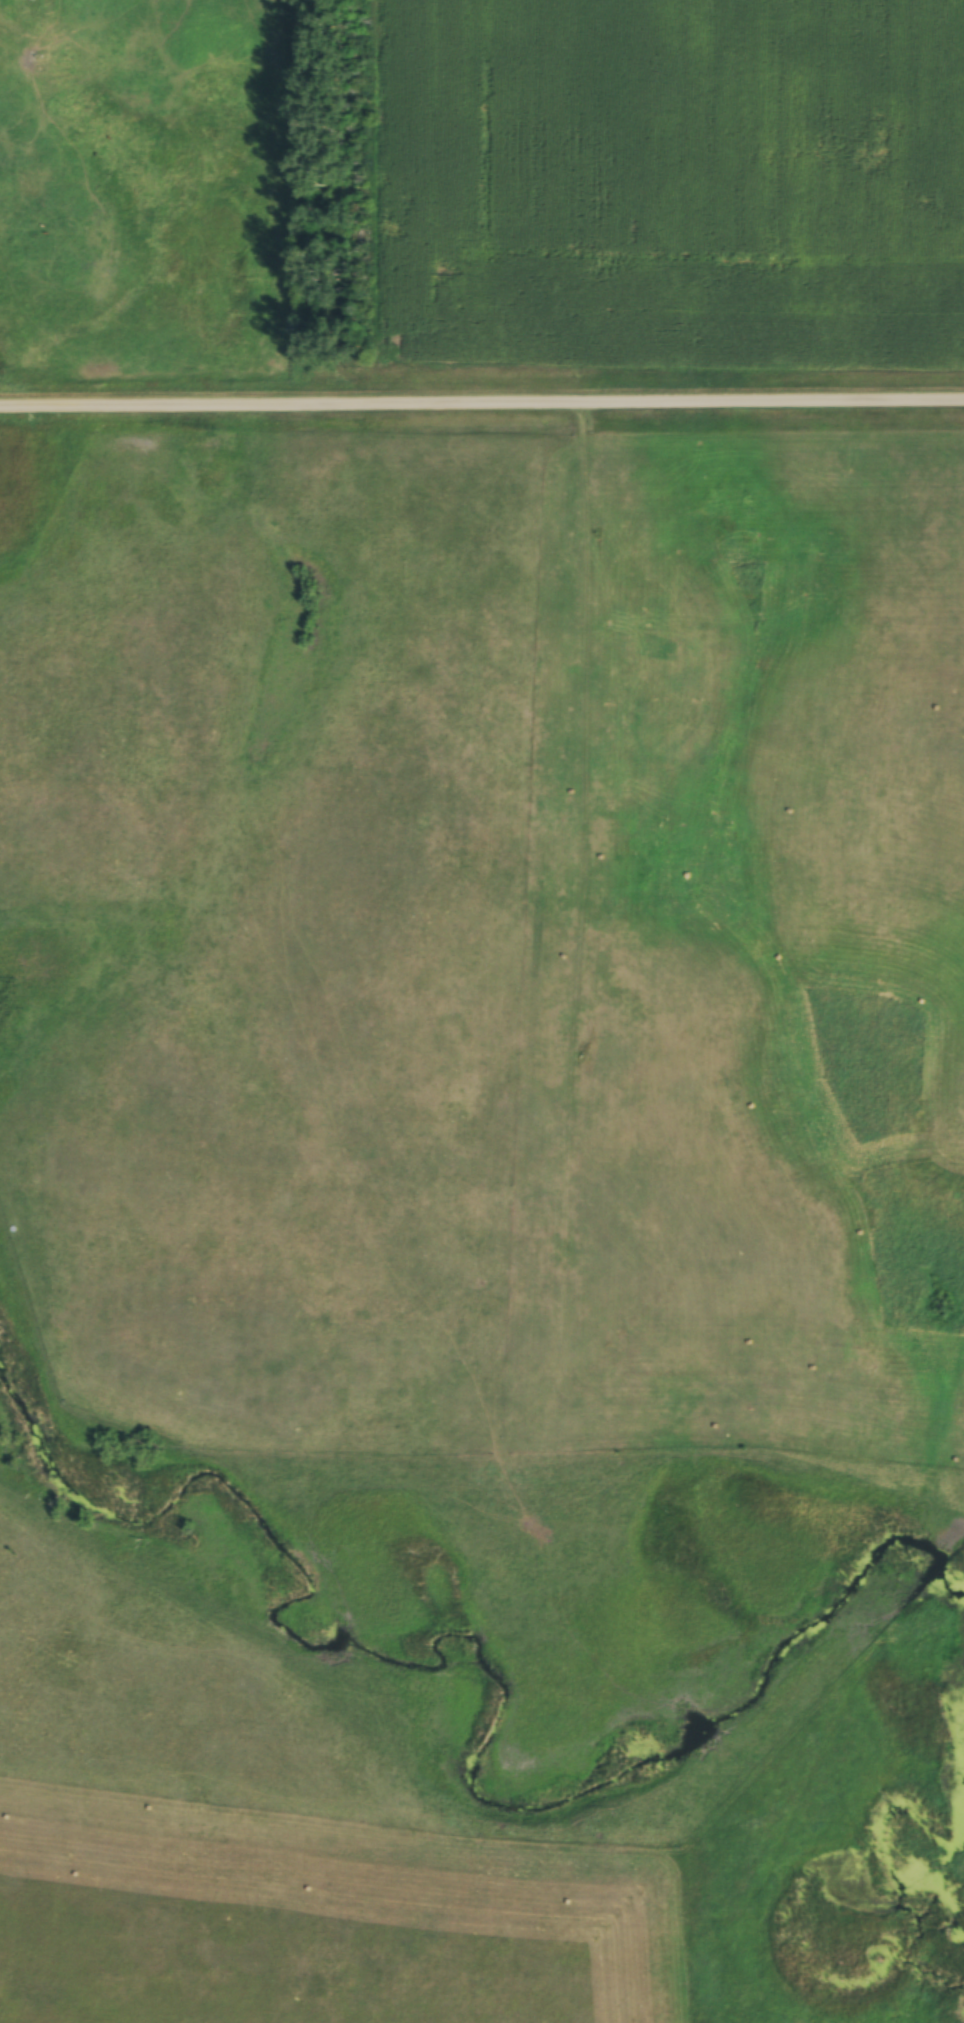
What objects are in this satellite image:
road: (481, 395)
river: (851, 1921)

